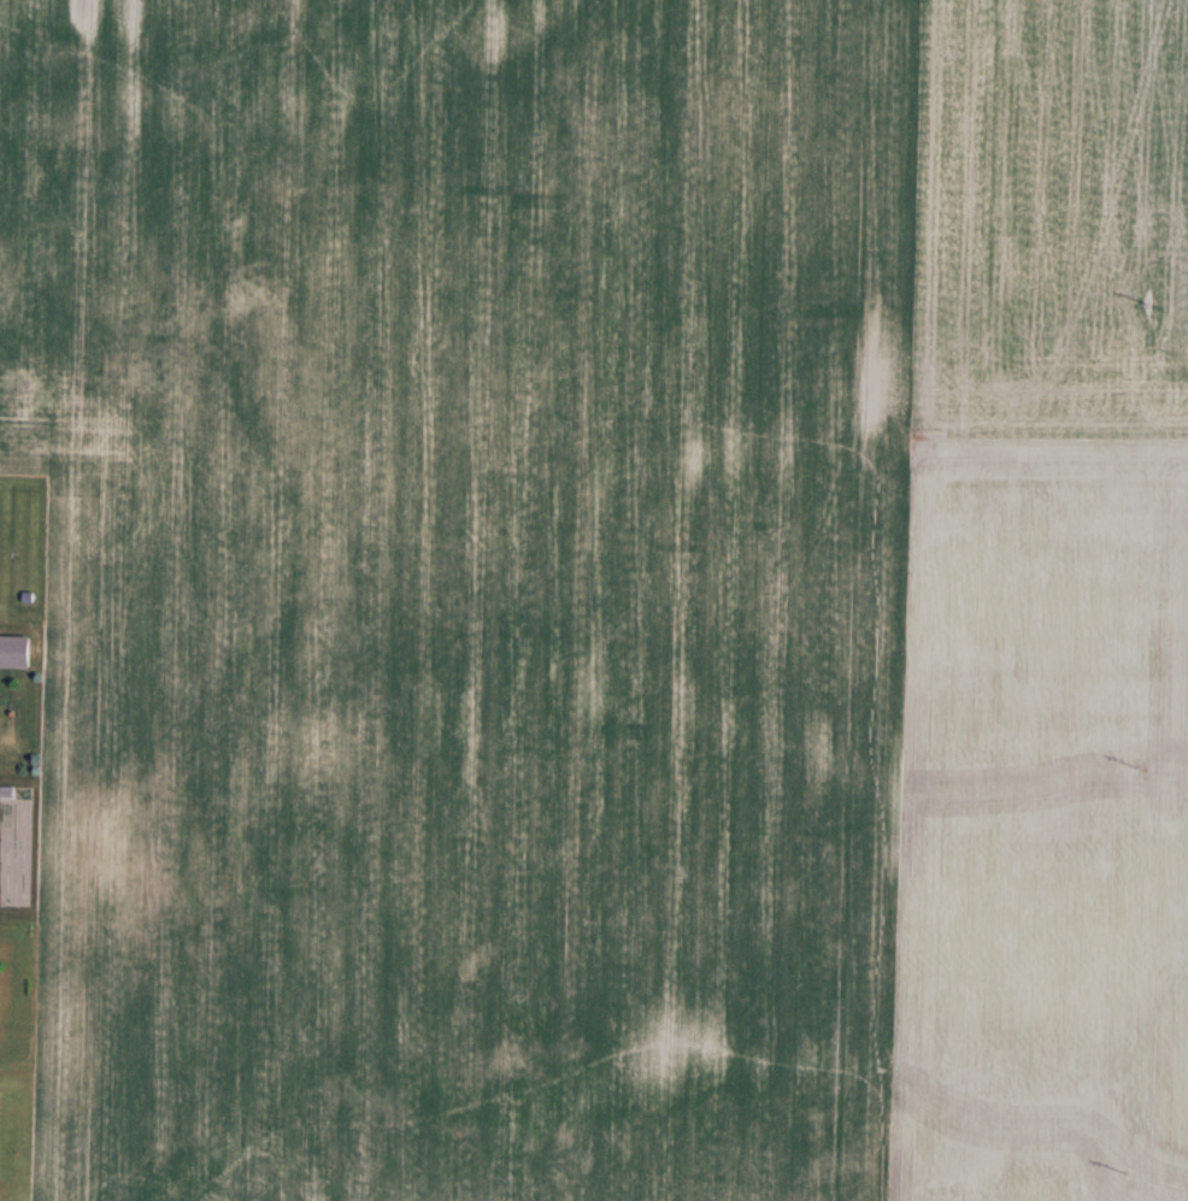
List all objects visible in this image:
power tower: (1143, 302)
power tower: (1136, 765)
power tower: (1123, 1172)

